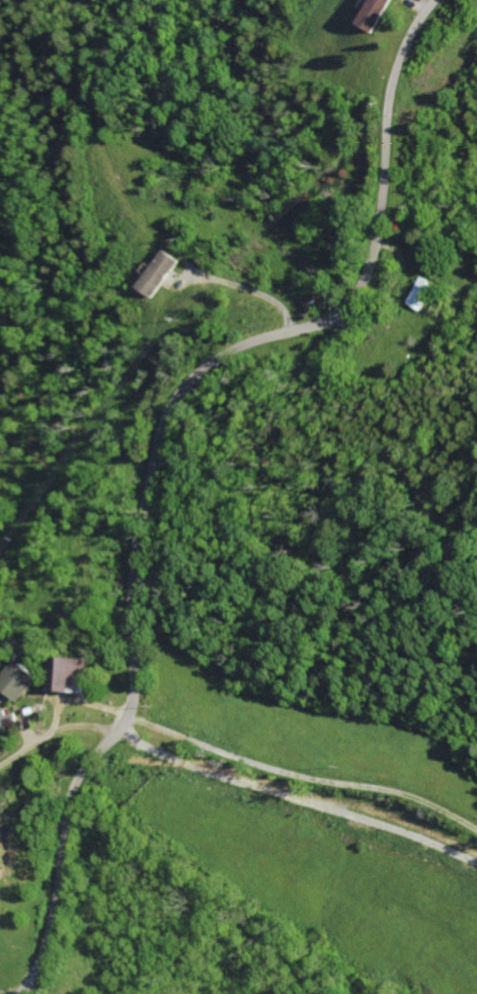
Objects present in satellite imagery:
building: (375, 14)
building: (160, 274)
road: (252, 290)
building: (426, 294)
road: (161, 450)
building: (71, 674)
building: (20, 681)
building: (11, 719)
road: (57, 732)
road: (298, 800)

